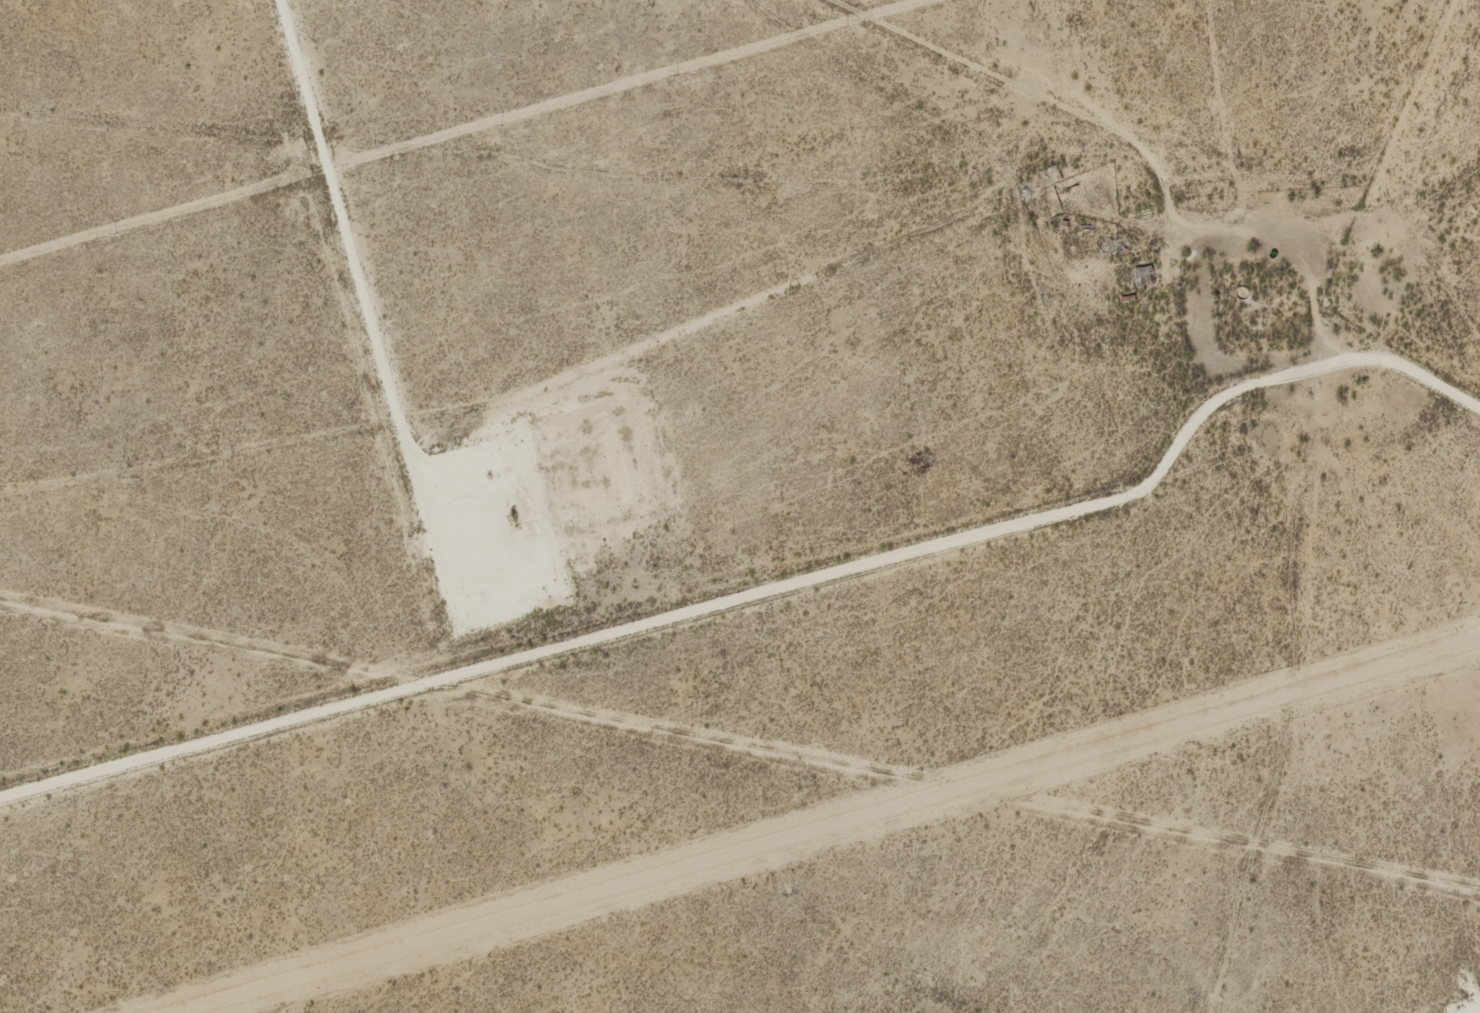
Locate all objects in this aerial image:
road: (1404, 176)
petroleum well: (510, 519)

